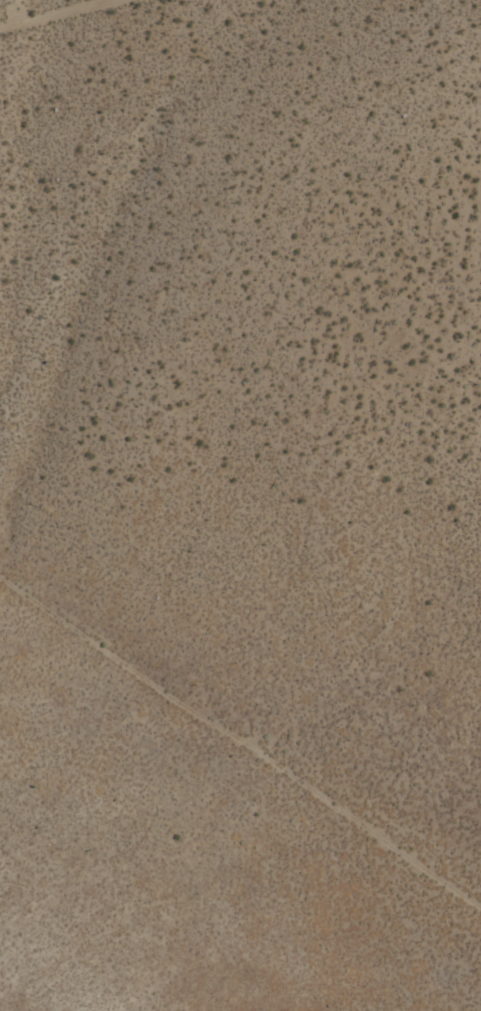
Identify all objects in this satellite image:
road: (51, 12)
road: (240, 740)

